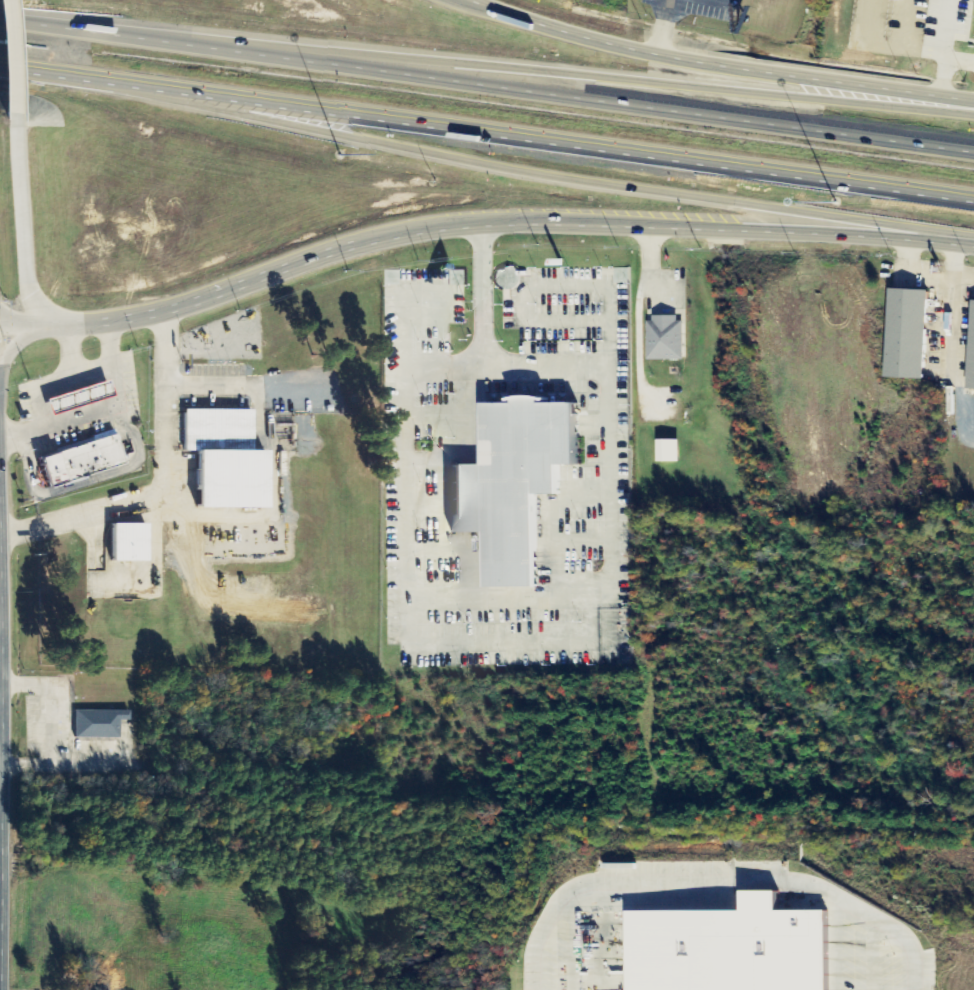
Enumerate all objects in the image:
road: (939, 30)
road: (8, 56)
road: (500, 60)
road: (719, 62)
road: (939, 64)
road: (486, 88)
road: (486, 133)
road: (451, 154)
street lamp: (342, 155)
street lamp: (834, 203)
road: (513, 218)
road: (22, 225)
road: (33, 321)
building: (912, 333)
building: (668, 339)
building: (973, 374)
building: (91, 397)
gas station: (91, 397)
building: (674, 451)
building: (101, 457)
building: (234, 461)
building: (62, 470)
building: (519, 486)
building: (132, 542)
building: (110, 721)
building: (736, 948)

